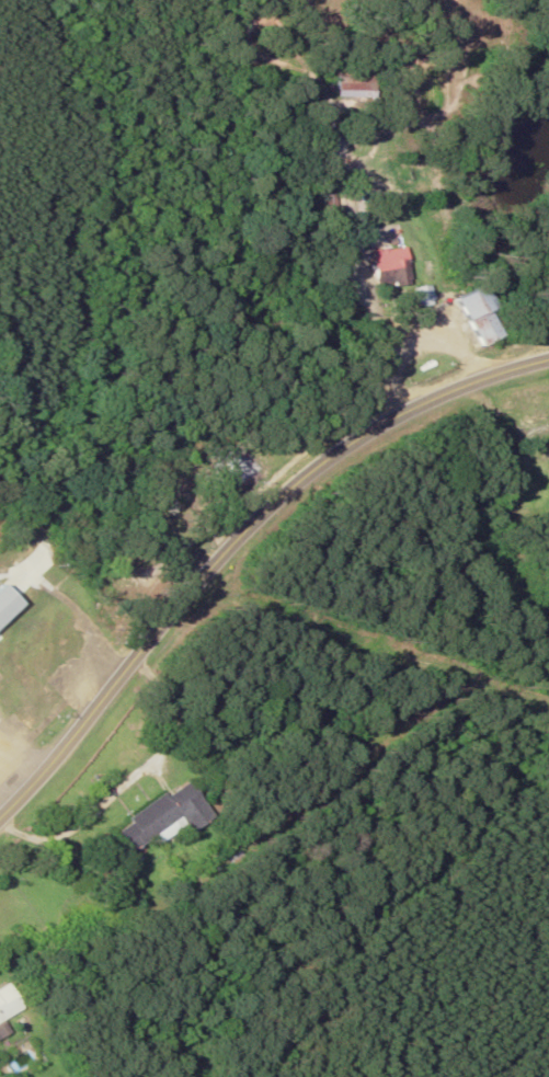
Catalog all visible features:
building: (344, 87)
building: (384, 267)
road: (346, 273)
building: (461, 316)
building: (528, 458)
building: (153, 507)
road: (238, 538)
building: (5, 604)
building: (43, 666)
building: (156, 817)
building: (4, 1002)

